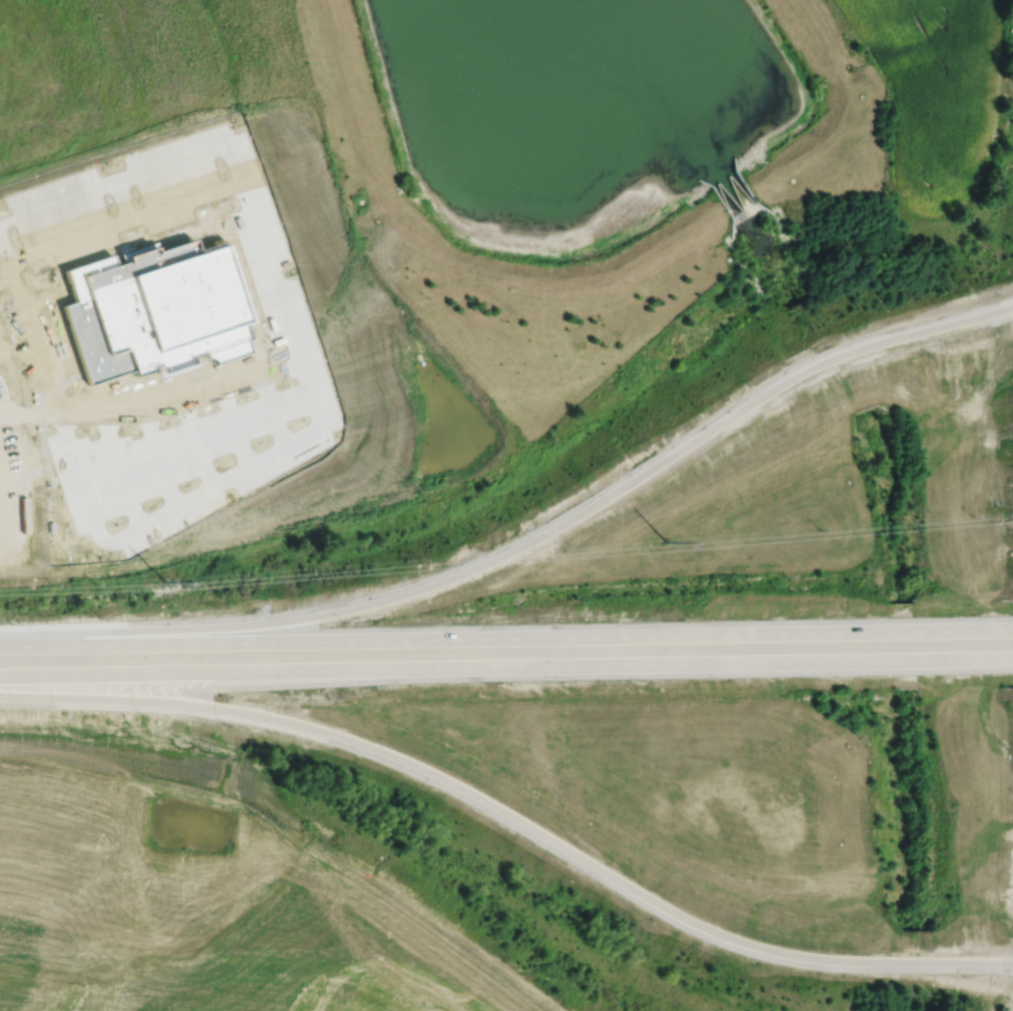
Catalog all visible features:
crop: (935, 91)
road: (130, 179)
road: (128, 224)
parking lot: (42, 262)
building: (158, 316)
road: (30, 415)
road: (276, 416)
road: (238, 432)
road: (302, 444)
road: (200, 447)
road: (161, 461)
parking lot: (190, 461)
road: (119, 472)
road: (529, 541)
power tower: (669, 541)
power tower: (168, 581)
street lamp: (252, 608)
street lamp: (176, 612)
street lamp: (98, 616)
street lamp: (19, 619)
street lamp: (342, 622)
road: (694, 635)
road: (187, 643)
road: (694, 663)
road: (188, 671)
street lamp: (288, 691)
street lamp: (61, 712)
street lamp: (141, 714)
street lamp: (223, 723)
road: (512, 818)

